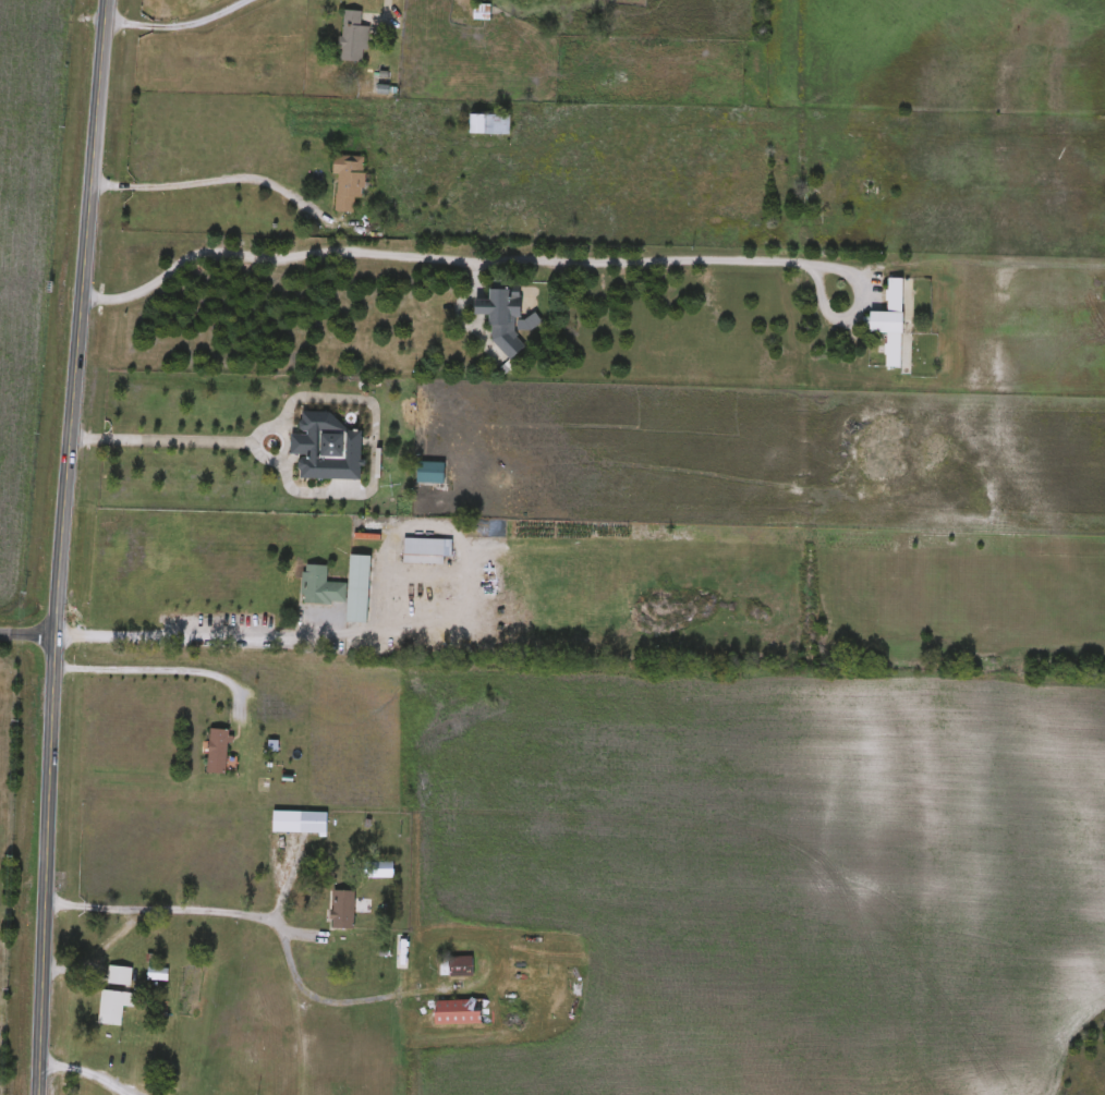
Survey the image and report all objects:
building: (482, 12)
road: (175, 25)
building: (352, 37)
building: (537, 112)
building: (488, 124)
road: (217, 180)
building: (348, 181)
road: (518, 259)
building: (506, 316)
building: (895, 321)
road: (170, 440)
building: (327, 448)
building: (432, 473)
road: (61, 547)
building: (424, 551)
building: (320, 586)
building: (359, 589)
road: (27, 621)
road: (274, 630)
road: (157, 662)
building: (217, 751)
building: (300, 823)
road: (257, 908)
building: (342, 910)
building: (456, 965)
building: (120, 975)
building: (113, 1006)
building: (459, 1011)
road: (84, 1071)

